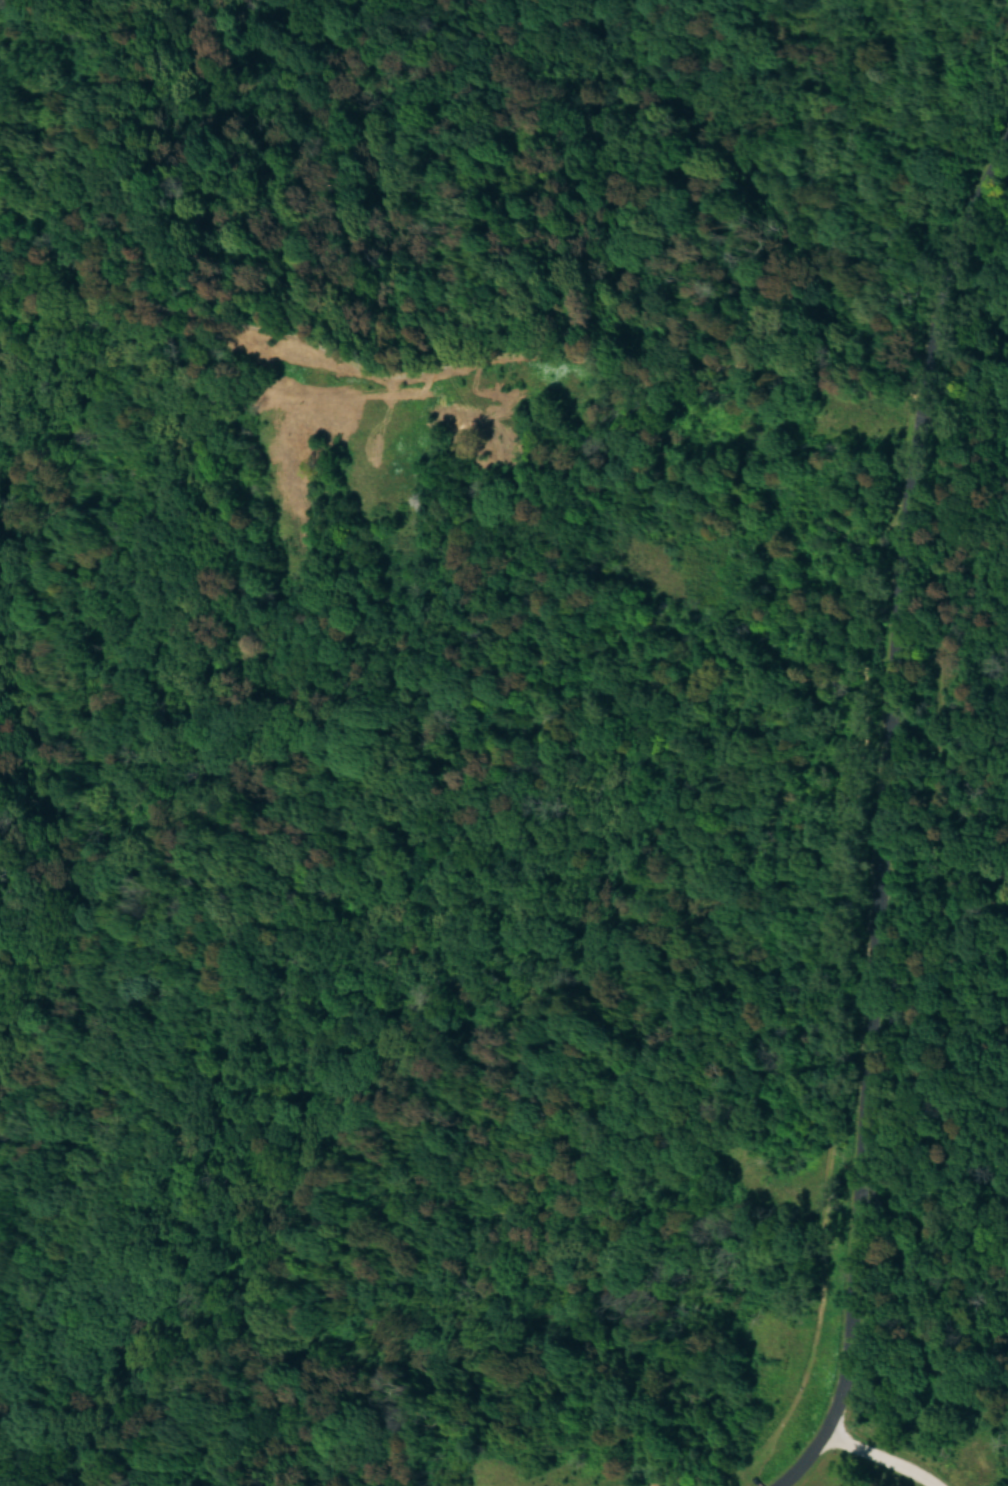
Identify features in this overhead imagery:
road: (935, 206)
road: (460, 360)
road: (884, 811)
road: (882, 1457)

